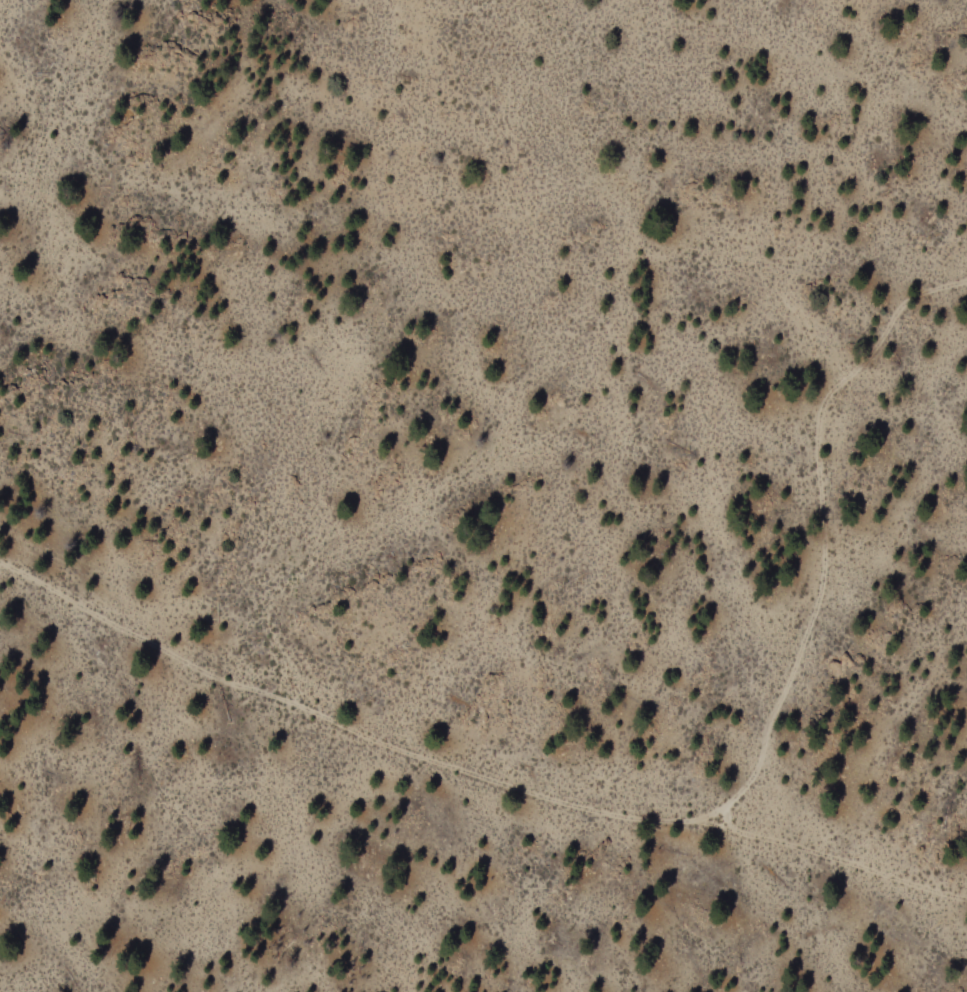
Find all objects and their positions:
road: (651, 816)
road: (242, 842)
road: (833, 857)

